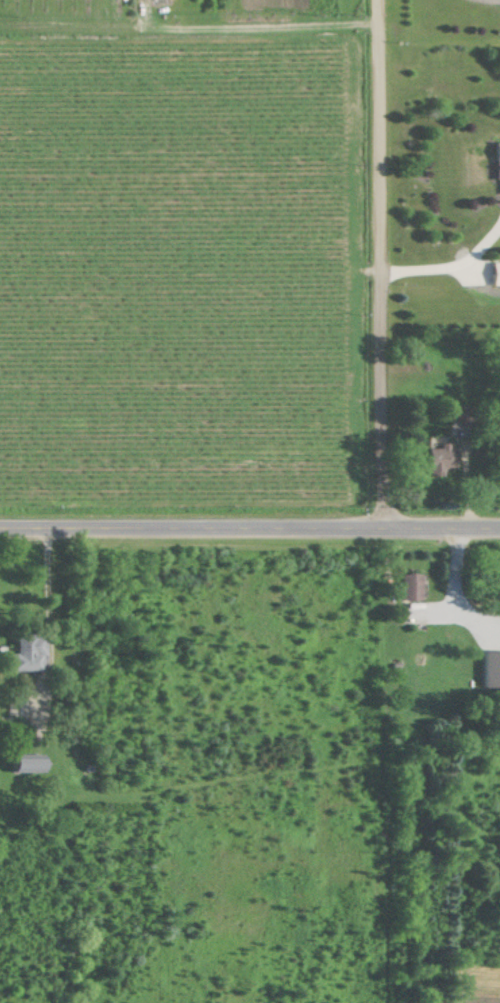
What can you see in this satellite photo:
building: (494, 164)
road: (385, 263)
road: (452, 268)
building: (492, 273)
building: (432, 459)
road: (250, 527)
road: (52, 585)
building: (404, 585)
road: (449, 595)
building: (27, 652)
building: (488, 667)
building: (32, 762)

